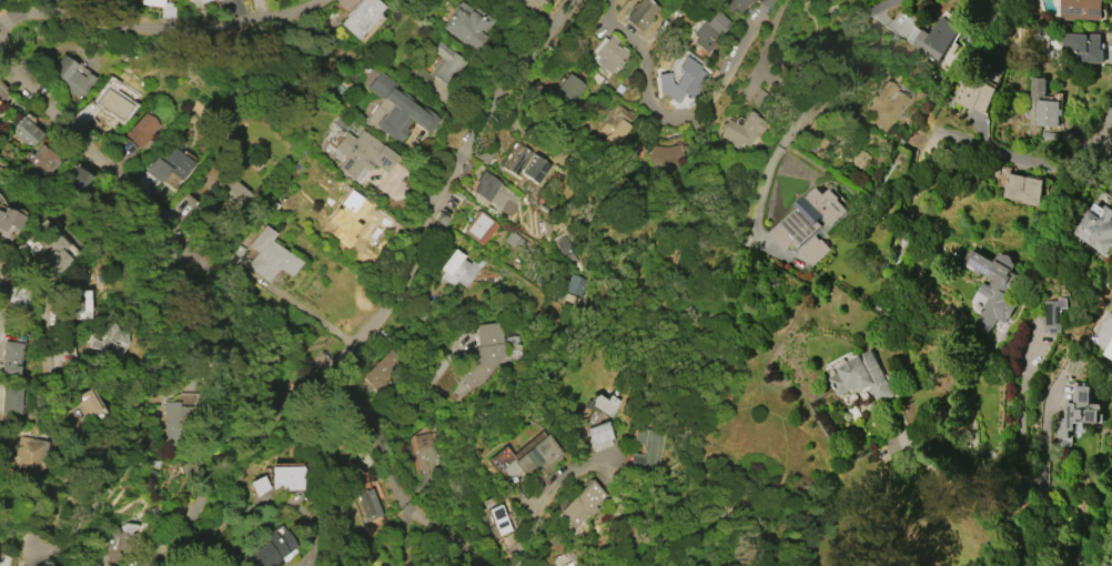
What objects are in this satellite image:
building: (202, 1)
building: (152, 2)
building: (530, 3)
building: (765, 3)
building: (737, 6)
building: (1081, 9)
building: (168, 10)
building: (641, 14)
building: (361, 16)
building: (473, 24)
road: (160, 27)
building: (708, 29)
road: (771, 37)
building: (937, 39)
building: (1083, 47)
building: (608, 55)
building: (441, 68)
building: (71, 78)
building: (598, 79)
building: (676, 82)
building: (569, 87)
building: (974, 93)
building: (3, 94)
building: (112, 100)
building: (886, 105)
building: (1042, 105)
building: (392, 110)
road: (665, 113)
road: (797, 115)
building: (615, 127)
building: (739, 129)
building: (141, 130)
building: (26, 132)
building: (361, 153)
building: (670, 155)
building: (857, 158)
building: (42, 159)
building: (255, 159)
building: (168, 164)
building: (527, 165)
road: (1033, 165)
road: (122, 168)
building: (77, 181)
building: (1022, 189)
building: (230, 192)
building: (494, 193)
building: (0, 196)
building: (348, 211)
building: (9, 219)
building: (808, 224)
building: (479, 228)
building: (1098, 228)
building: (51, 247)
building: (270, 256)
building: (458, 270)
building: (580, 290)
building: (992, 291)
building: (16, 296)
building: (74, 302)
road: (396, 302)
building: (1053, 314)
building: (1105, 334)
building: (109, 338)
building: (9, 352)
building: (482, 355)
road: (244, 364)
building: (386, 371)
building: (861, 377)
road: (60, 397)
building: (10, 401)
building: (88, 403)
building: (602, 404)
building: (1078, 411)
road: (138, 416)
building: (178, 418)
road: (711, 433)
building: (598, 434)
building: (646, 452)
building: (30, 453)
building: (423, 453)
building: (535, 455)
building: (501, 456)
road: (1025, 461)
building: (191, 465)
road: (626, 472)
building: (274, 479)
road: (394, 486)
road: (963, 489)
building: (358, 493)
road: (777, 493)
building: (580, 505)
road: (537, 512)
building: (498, 519)
road: (407, 543)
building: (121, 544)
building: (266, 550)
road: (1110, 564)
building: (572, 565)

